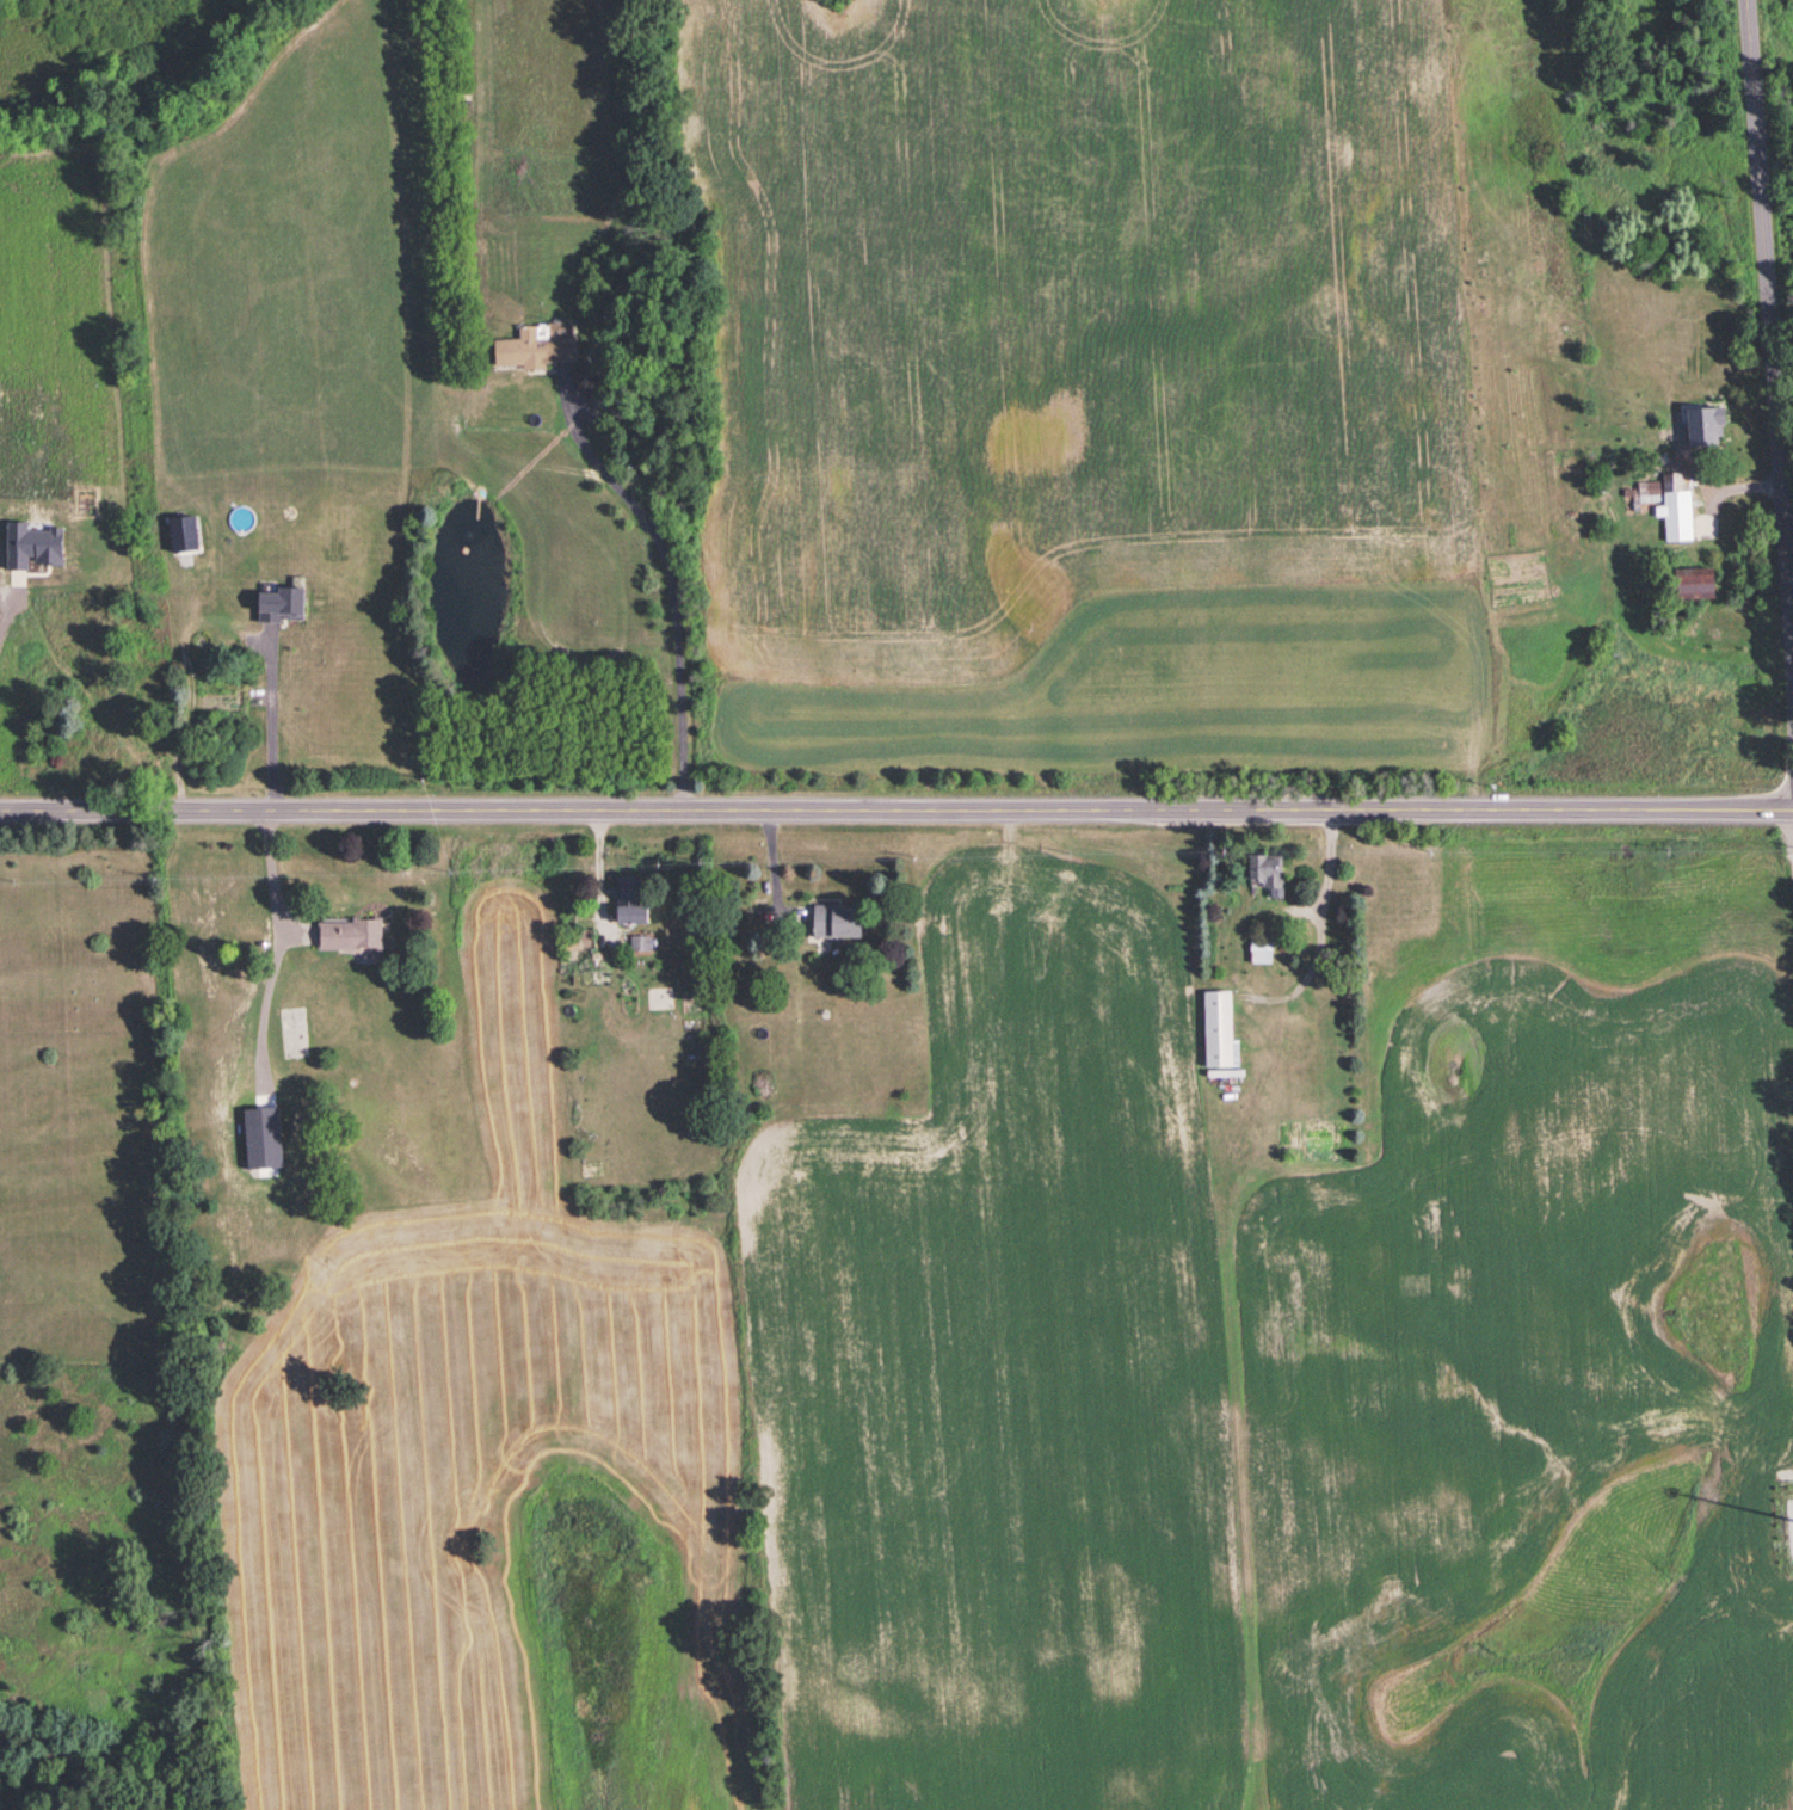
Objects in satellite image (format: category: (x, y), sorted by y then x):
crop: (279, 269)
crop: (1073, 308)
road: (1772, 320)
building: (536, 344)
building: (1703, 424)
building: (1647, 486)
building: (1681, 511)
building: (31, 543)
building: (1693, 581)
road: (672, 595)
building: (282, 601)
road: (1, 614)
crop: (1156, 682)
road: (270, 718)
road: (897, 808)
road: (598, 862)
road: (770, 867)
building: (1267, 870)
road: (270, 876)
building: (628, 906)
building: (836, 918)
building: (350, 932)
building: (639, 941)
building: (1259, 949)
building: (1218, 1028)
building: (261, 1135)
crop: (1232, 1383)
crop: (468, 1442)
crop: (719, 1778)

